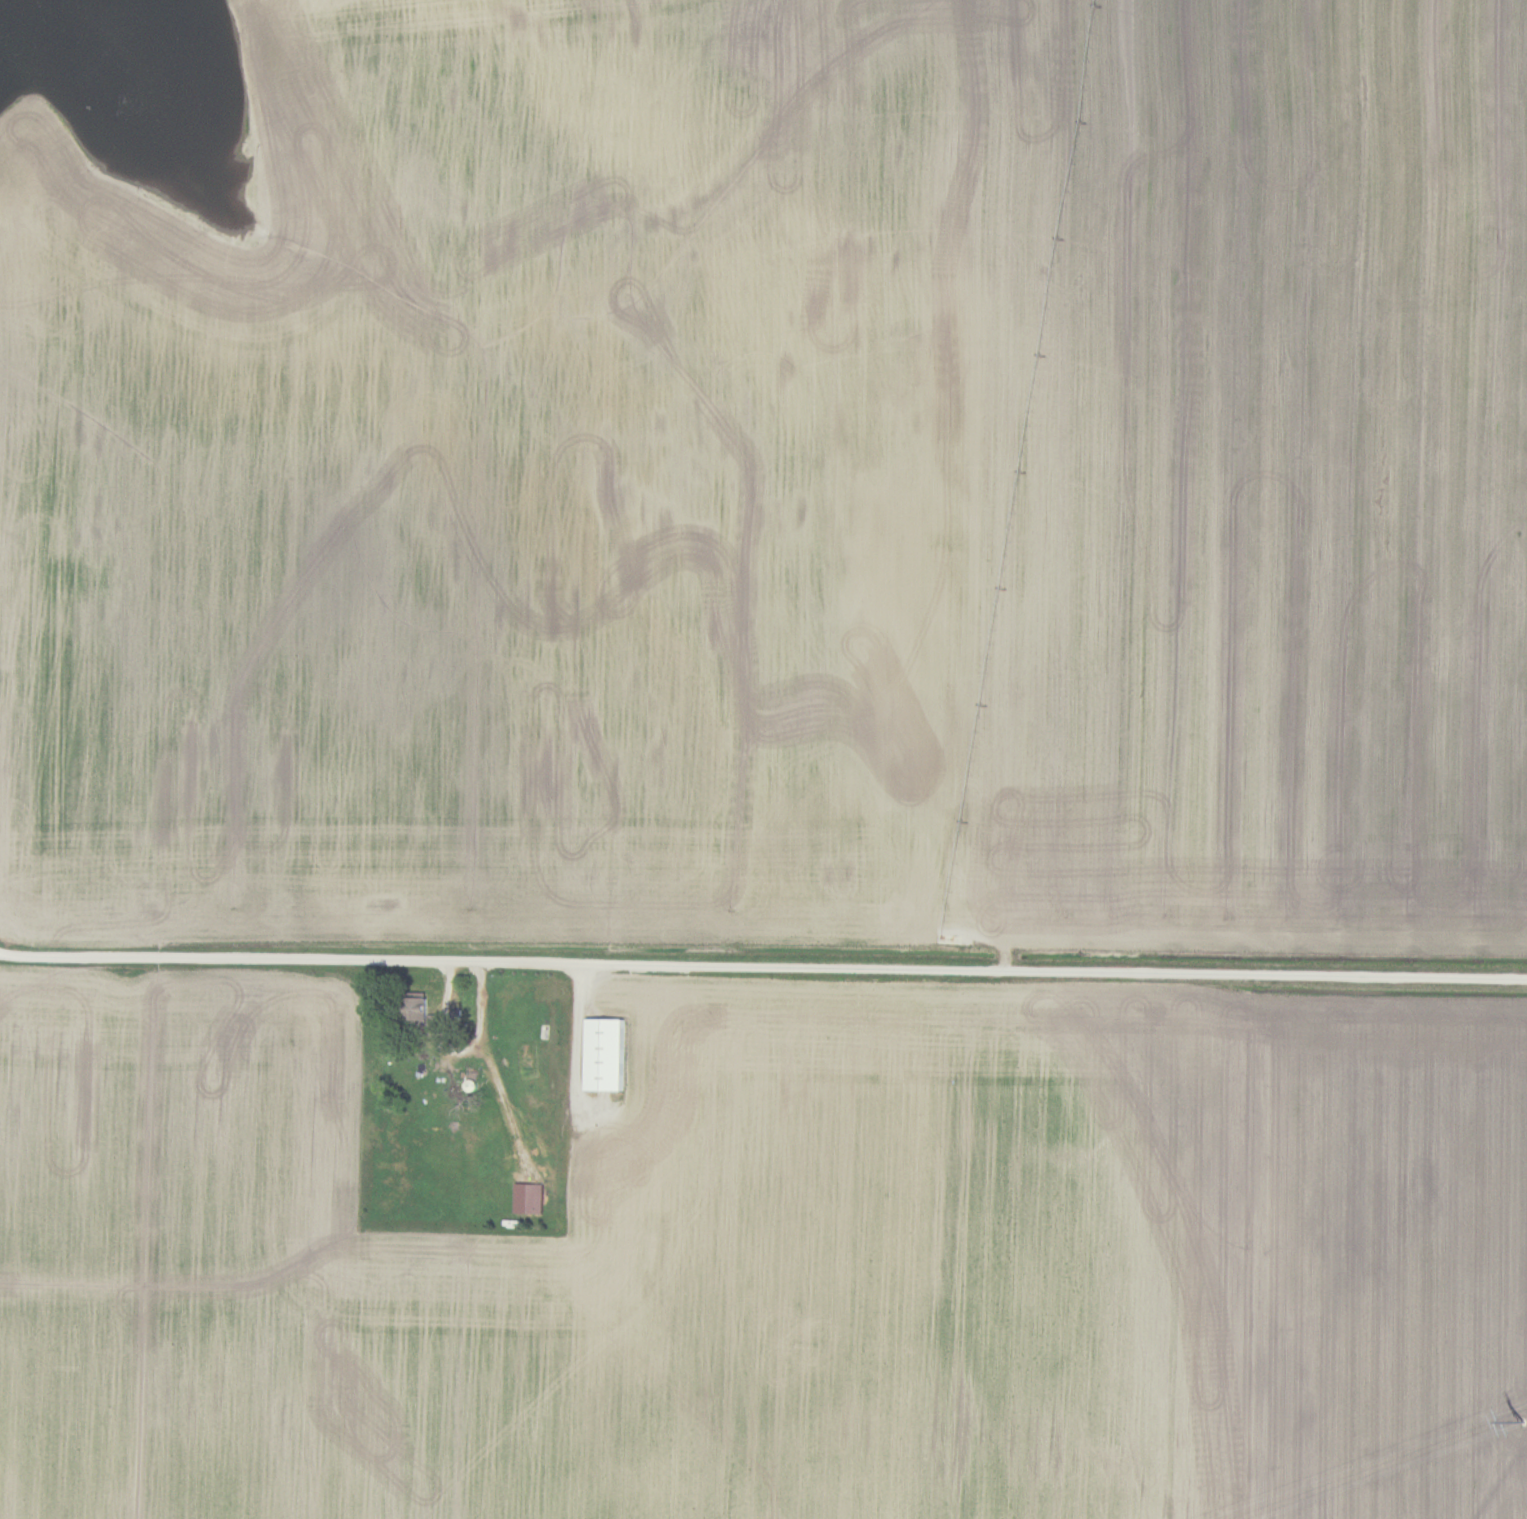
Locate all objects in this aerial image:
road: (763, 972)
road: (575, 991)
building: (604, 1054)
building: (528, 1197)

